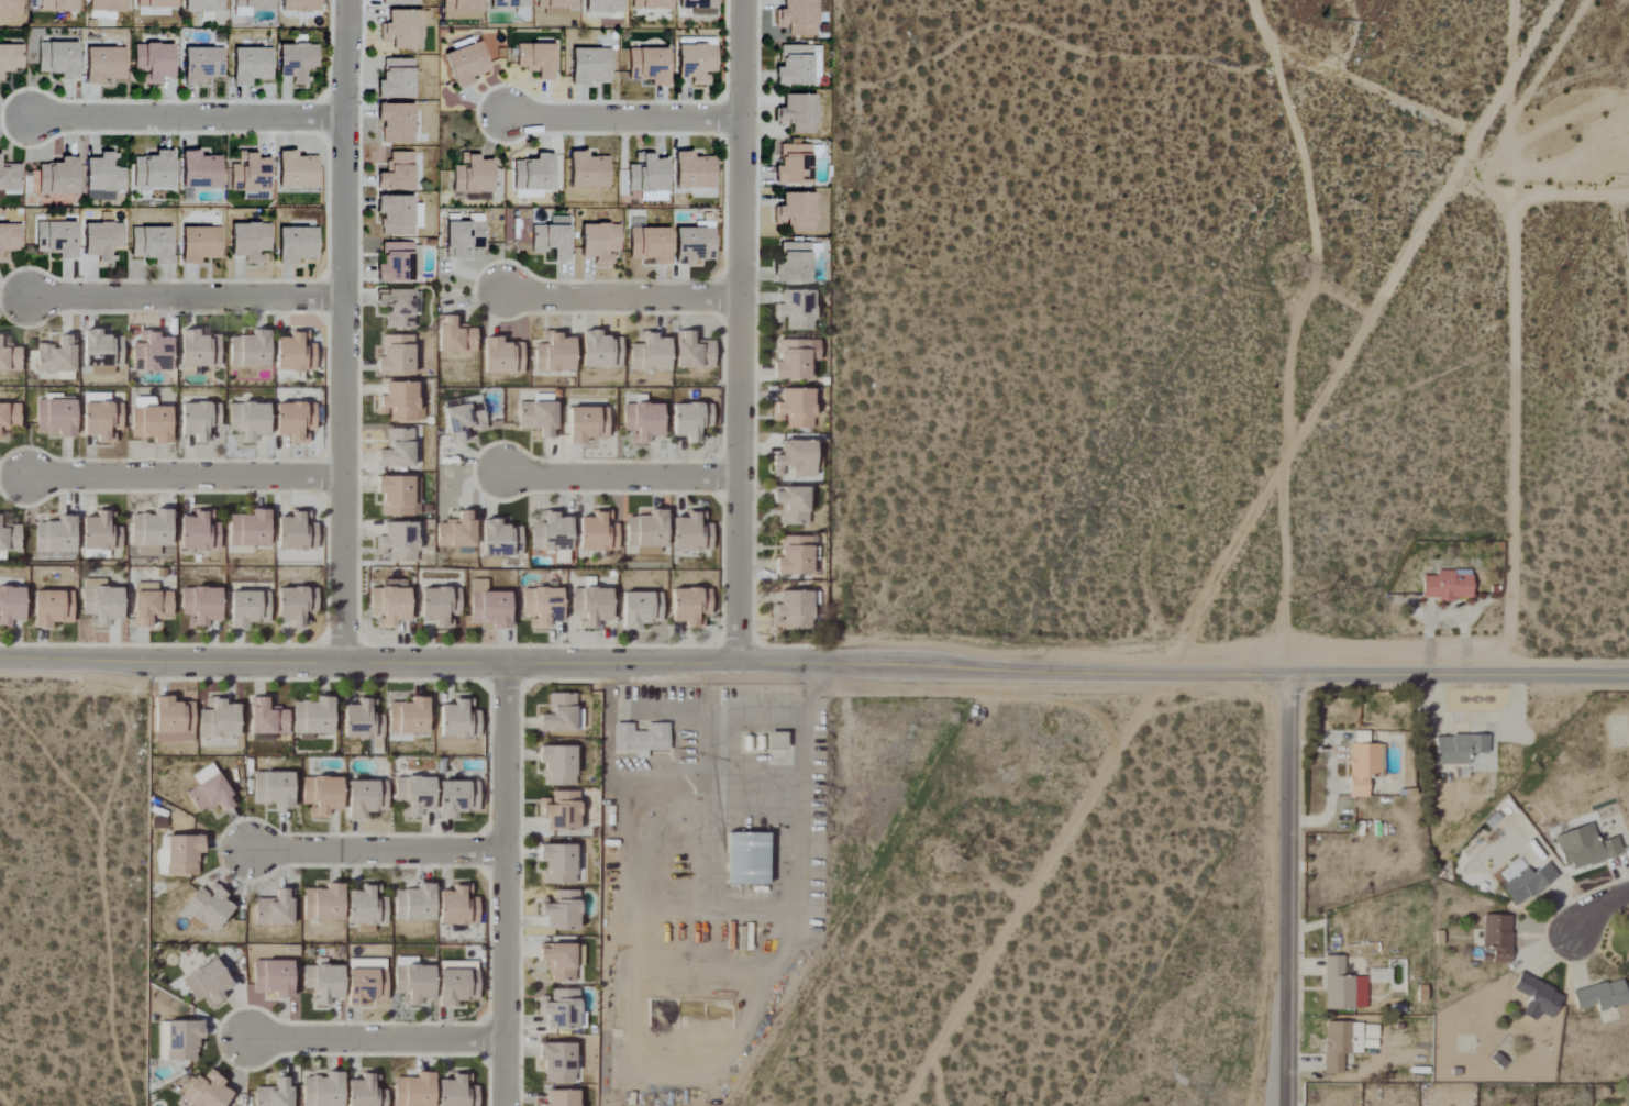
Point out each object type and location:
building: (397, 2)
building: (155, 3)
building: (253, 3)
building: (508, 4)
building: (651, 4)
building: (57, 5)
building: (107, 5)
building: (201, 5)
building: (299, 5)
building: (603, 5)
building: (556, 7)
building: (699, 7)
building: (10, 8)
building: (462, 10)
building: (797, 18)
building: (402, 30)
building: (10, 57)
building: (57, 59)
building: (535, 59)
building: (296, 60)
building: (152, 62)
building: (696, 63)
building: (466, 64)
road: (1306, 64)
building: (102, 65)
building: (201, 65)
building: (250, 65)
building: (589, 65)
building: (647, 65)
building: (797, 65)
building: (396, 79)
building: (798, 113)
road: (186, 117)
road: (622, 119)
building: (396, 123)
road: (1464, 133)
building: (794, 165)
building: (153, 170)
building: (199, 170)
building: (296, 170)
building: (692, 170)
building: (587, 172)
building: (397, 173)
building: (533, 173)
building: (472, 175)
building: (250, 176)
building: (10, 177)
building: (58, 177)
building: (647, 177)
building: (102, 178)
road: (1309, 179)
building: (528, 195)
road: (1573, 197)
building: (796, 212)
building: (398, 215)
building: (10, 237)
building: (55, 239)
building: (463, 239)
building: (552, 239)
building: (101, 241)
building: (248, 241)
building: (599, 242)
building: (151, 244)
building: (199, 244)
building: (296, 244)
building: (649, 245)
building: (692, 245)
building: (396, 263)
building: (793, 264)
power tower: (1305, 273)
road: (621, 296)
road: (186, 297)
road: (1342, 305)
building: (395, 309)
building: (795, 310)
road: (343, 330)
road: (741, 331)
building: (454, 336)
road: (1518, 336)
building: (198, 350)
building: (250, 351)
building: (600, 351)
building: (101, 352)
building: (692, 352)
building: (151, 353)
building: (293, 353)
building: (554, 353)
building: (649, 354)
building: (56, 355)
building: (395, 356)
building: (501, 357)
building: (9, 361)
building: (791, 361)
road: (1288, 385)
building: (400, 402)
building: (795, 408)
building: (9, 417)
building: (55, 418)
building: (538, 418)
building: (198, 420)
building: (463, 420)
building: (101, 421)
building: (247, 421)
building: (293, 421)
building: (690, 421)
building: (642, 422)
building: (149, 424)
building: (586, 424)
building: (396, 450)
building: (818, 456)
road: (182, 476)
road: (620, 476)
building: (395, 496)
building: (415, 496)
building: (791, 506)
building: (151, 529)
building: (248, 530)
building: (646, 530)
building: (457, 531)
building: (100, 532)
building: (198, 532)
building: (296, 532)
building: (597, 533)
building: (691, 533)
building: (551, 535)
building: (55, 537)
building: (10, 539)
building: (500, 540)
building: (398, 541)
road: (1233, 553)
building: (2, 556)
building: (794, 556)
road: (1284, 567)
building: (1448, 586)
building: (100, 604)
building: (389, 604)
building: (149, 605)
building: (10, 606)
building: (200, 606)
building: (296, 606)
building: (488, 606)
building: (590, 606)
building: (439, 607)
building: (541, 607)
building: (689, 607)
building: (51, 608)
building: (247, 609)
building: (639, 609)
building: (794, 610)
power tower: (1307, 610)
road: (815, 662)
building: (561, 715)
road: (721, 715)
building: (313, 717)
building: (407, 717)
building: (266, 718)
building: (218, 720)
building: (362, 720)
building: (173, 721)
building: (457, 721)
building: (641, 739)
building: (776, 741)
building: (1459, 749)
building: (557, 765)
building: (1362, 768)
building: (203, 774)
building: (273, 790)
building: (413, 795)
building: (209, 796)
building: (321, 796)
building: (365, 798)
building: (456, 798)
building: (561, 811)
building: (1585, 848)
road: (375, 850)
building: (181, 855)
power tower: (951, 855)
building: (745, 860)
building: (556, 864)
road: (505, 884)
road: (1283, 891)
building: (414, 904)
building: (323, 905)
building: (366, 907)
building: (457, 907)
road: (1595, 908)
building: (206, 910)
building: (274, 910)
building: (562, 911)
building: (1497, 937)
building: (578, 956)
building: (558, 962)
building: (1627, 962)
building: (273, 978)
building: (321, 983)
building: (365, 983)
building: (456, 983)
building: (206, 984)
building: (413, 984)
building: (1337, 986)
building: (1360, 993)
building: (1602, 996)
building: (1538, 998)
building: (559, 1010)
road: (374, 1039)
building: (181, 1041)
building: (1340, 1044)
building: (556, 1063)
building: (322, 1091)
building: (413, 1091)
building: (206, 1092)
building: (457, 1092)
building: (364, 1093)
building: (274, 1094)
building: (561, 1098)

